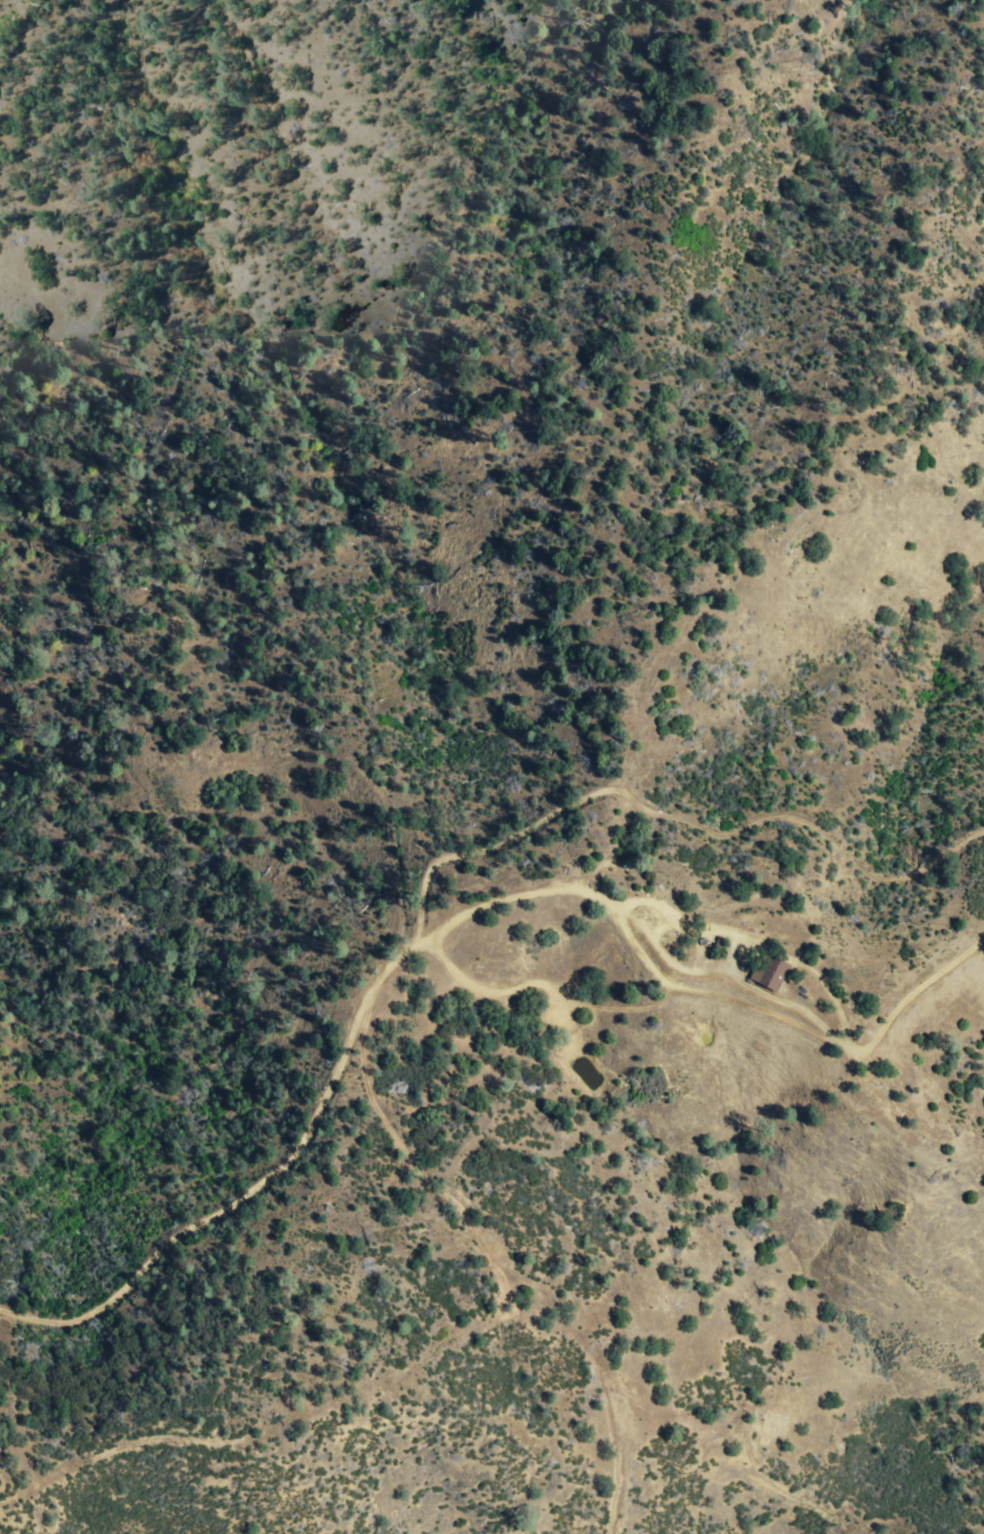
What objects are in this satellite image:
building: (767, 973)

